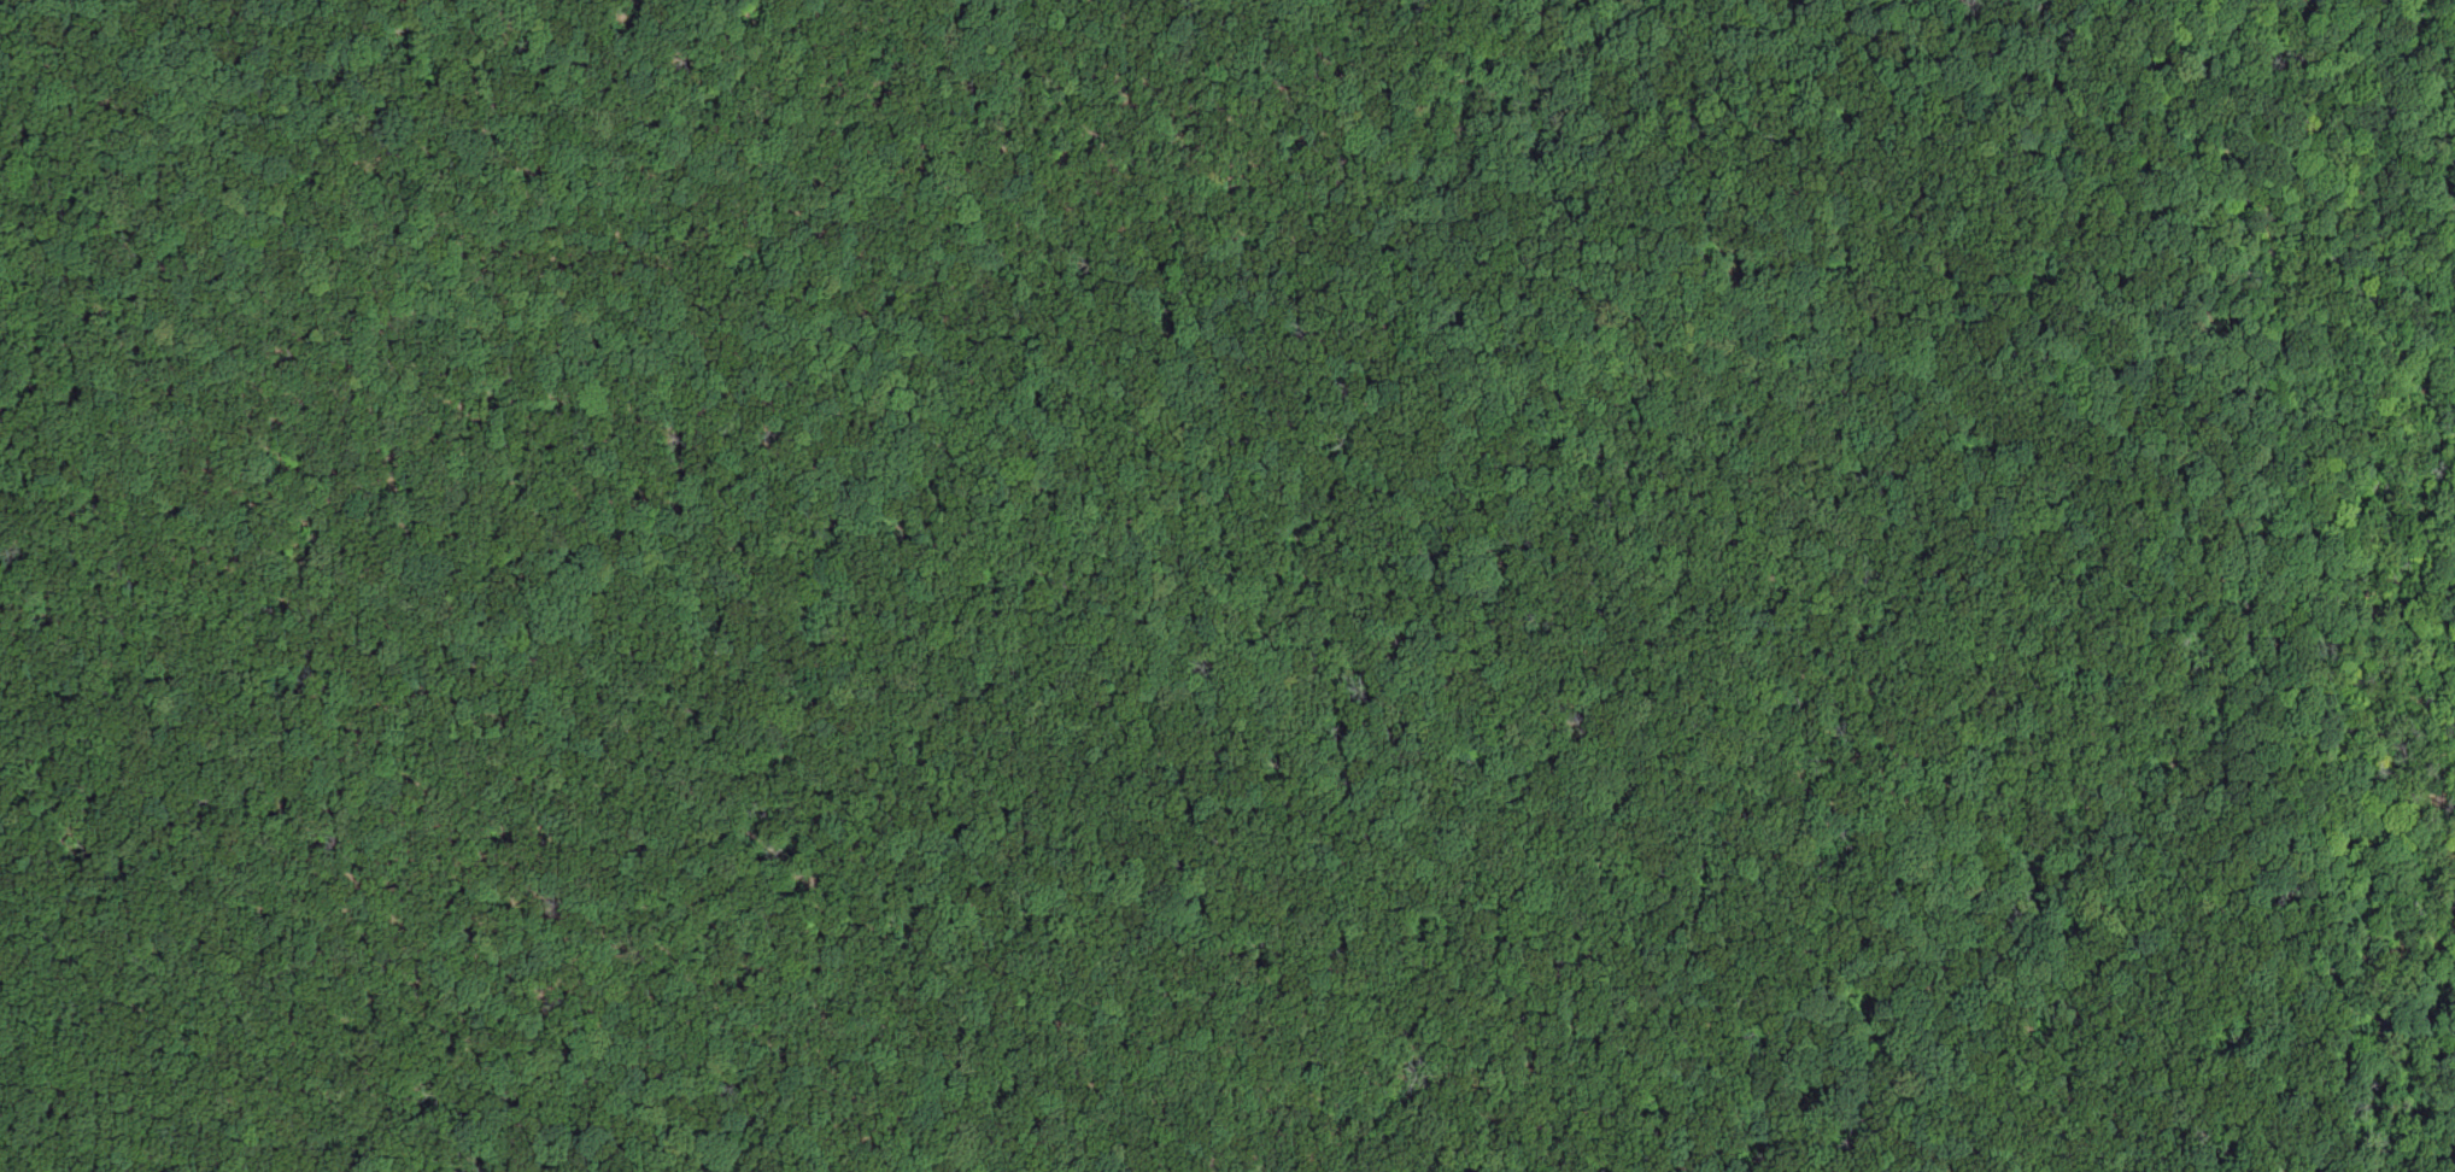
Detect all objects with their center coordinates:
road: (2408, 187)
park: (1227, 586)
road: (515, 644)

